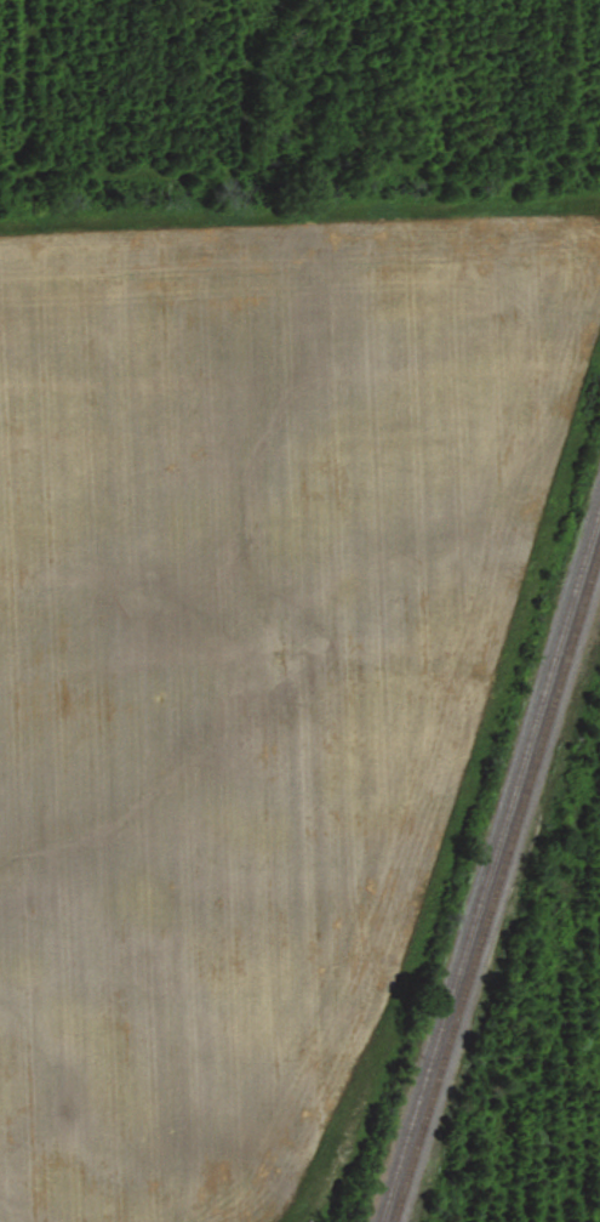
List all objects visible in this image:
railway: (492, 873)

